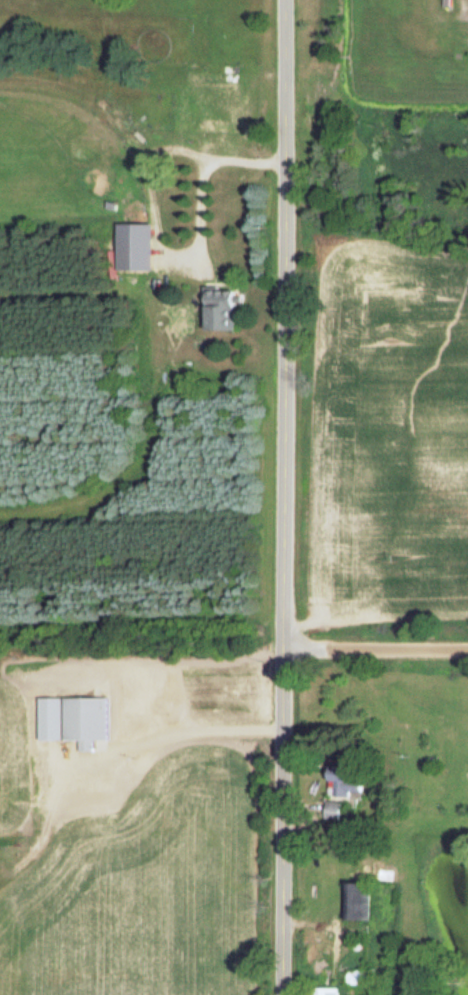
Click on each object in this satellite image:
building: (205, 97)
road: (142, 200)
building: (216, 308)
road: (283, 497)
road: (375, 649)
building: (69, 719)
road: (189, 732)
building: (339, 782)
building: (329, 810)
building: (355, 901)
building: (319, 991)

